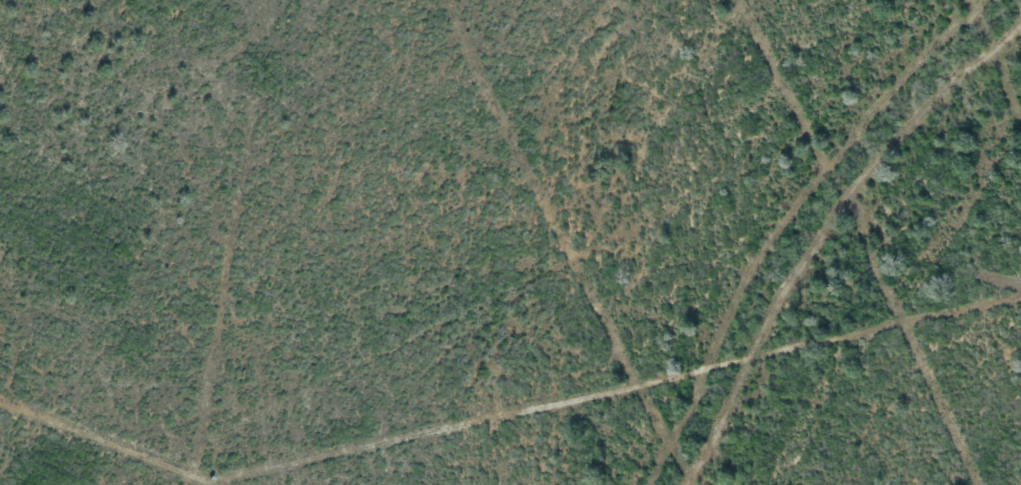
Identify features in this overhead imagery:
road: (107, 442)

